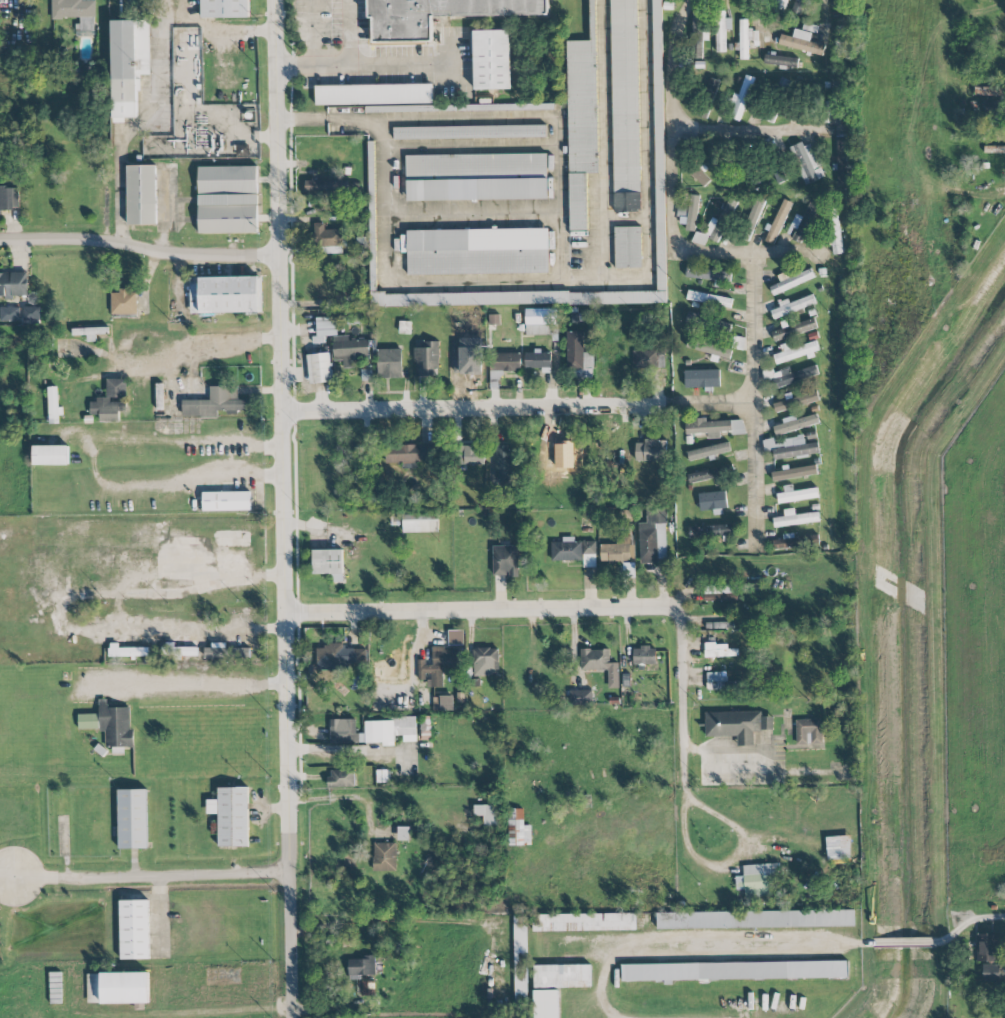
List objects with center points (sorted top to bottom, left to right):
building: (840, 3)
building: (781, 5)
building: (668, 6)
building: (798, 6)
building: (225, 9)
building: (76, 14)
road: (756, 14)
building: (438, 15)
building: (721, 30)
road: (347, 31)
building: (698, 33)
road: (209, 34)
building: (746, 39)
building: (801, 42)
road: (311, 50)
building: (493, 60)
building: (781, 60)
road: (382, 62)
building: (128, 65)
building: (712, 86)
building: (374, 95)
building: (742, 97)
building: (626, 106)
building: (991, 108)
building: (460, 109)
building: (582, 121)
road: (136, 126)
road: (747, 129)
building: (470, 133)
road: (607, 140)
building: (658, 145)
building: (243, 151)
road: (672, 162)
building: (807, 162)
building: (841, 162)
building: (720, 172)
building: (778, 174)
building: (476, 177)
building: (700, 177)
building: (325, 185)
building: (142, 195)
building: (9, 198)
building: (228, 200)
building: (754, 213)
building: (778, 222)
building: (802, 222)
building: (715, 227)
building: (834, 232)
building: (328, 240)
road: (139, 247)
building: (628, 248)
building: (478, 252)
road: (781, 253)
building: (709, 274)
road: (536, 281)
building: (790, 281)
building: (13, 284)
building: (230, 295)
building: (506, 296)
building: (709, 299)
building: (123, 302)
building: (793, 306)
building: (31, 313)
building: (9, 314)
building: (494, 320)
building: (354, 321)
building: (541, 322)
building: (707, 325)
building: (405, 327)
building: (324, 329)
building: (794, 330)
building: (90, 333)
building: (708, 348)
road: (201, 350)
building: (349, 350)
building: (795, 352)
building: (578, 356)
building: (427, 359)
building: (538, 359)
building: (647, 359)
building: (504, 362)
building: (390, 364)
building: (320, 369)
building: (367, 373)
building: (794, 375)
building: (702, 378)
road: (751, 399)
building: (110, 401)
building: (796, 401)
building: (215, 403)
road: (712, 404)
building: (54, 405)
road: (477, 410)
building: (794, 424)
building: (713, 427)
building: (795, 449)
building: (651, 450)
building: (708, 451)
building: (407, 453)
building: (469, 454)
building: (50, 455)
building: (557, 457)
building: (503, 462)
building: (793, 472)
building: (709, 474)
building: (795, 494)
building: (712, 500)
building: (226, 501)
road: (284, 508)
building: (795, 518)
building: (420, 523)
building: (711, 530)
building: (653, 536)
building: (792, 541)
building: (574, 551)
building: (618, 551)
building: (505, 561)
building: (329, 563)
building: (720, 593)
road: (566, 607)
road: (54, 610)
building: (718, 625)
building: (456, 637)
building: (719, 650)
building: (179, 651)
building: (128, 652)
building: (216, 652)
building: (240, 652)
building: (339, 655)
building: (644, 656)
building: (488, 658)
building: (600, 664)
building: (438, 665)
building: (716, 680)
road: (191, 683)
building: (580, 697)
building: (443, 703)
building: (110, 725)
building: (737, 725)
building: (389, 730)
building: (343, 731)
road: (348, 750)
building: (341, 778)
building: (488, 815)
building: (231, 816)
building: (132, 819)
building: (518, 828)
building: (403, 834)
building: (838, 848)
building: (384, 857)
road: (723, 866)
road: (173, 875)
road: (27, 877)
building: (755, 881)
building: (755, 919)
building: (584, 922)
road: (967, 922)
building: (134, 930)
road: (830, 942)
road: (903, 942)
building: (987, 948)
building: (520, 957)
building: (362, 966)
building: (733, 971)
building: (991, 973)
building: (562, 976)
building: (117, 988)
building: (545, 1004)

